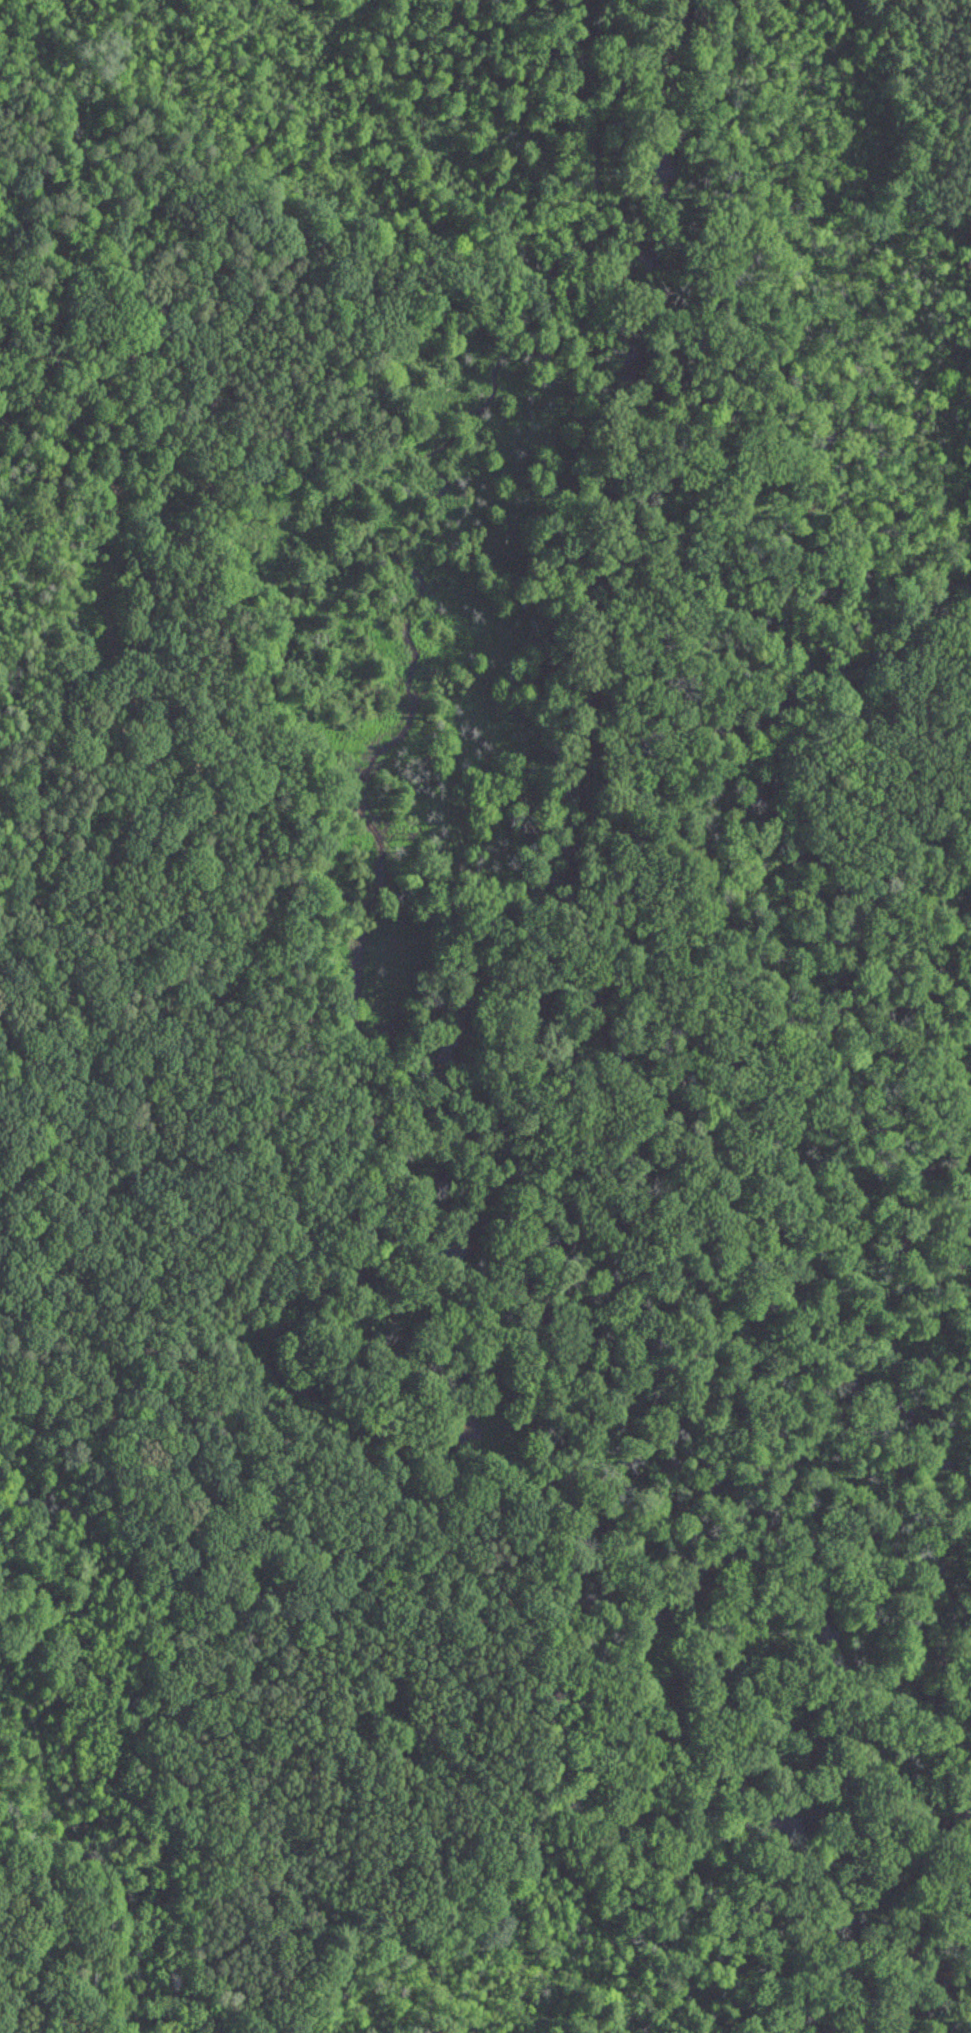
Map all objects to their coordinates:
road: (901, 122)
road: (963, 203)
road: (831, 741)

